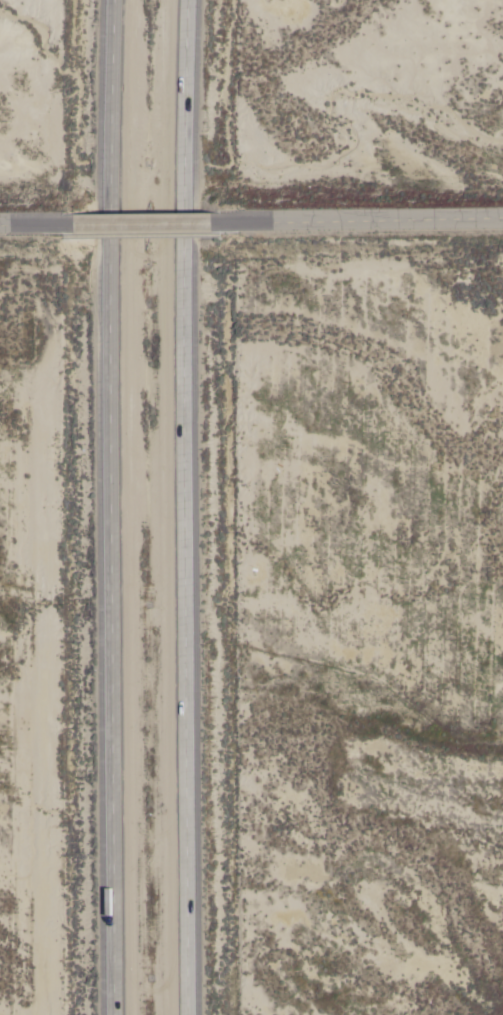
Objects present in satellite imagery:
road: (372, 220)
road: (147, 224)
road: (26, 225)
road: (110, 507)
road: (178, 507)

